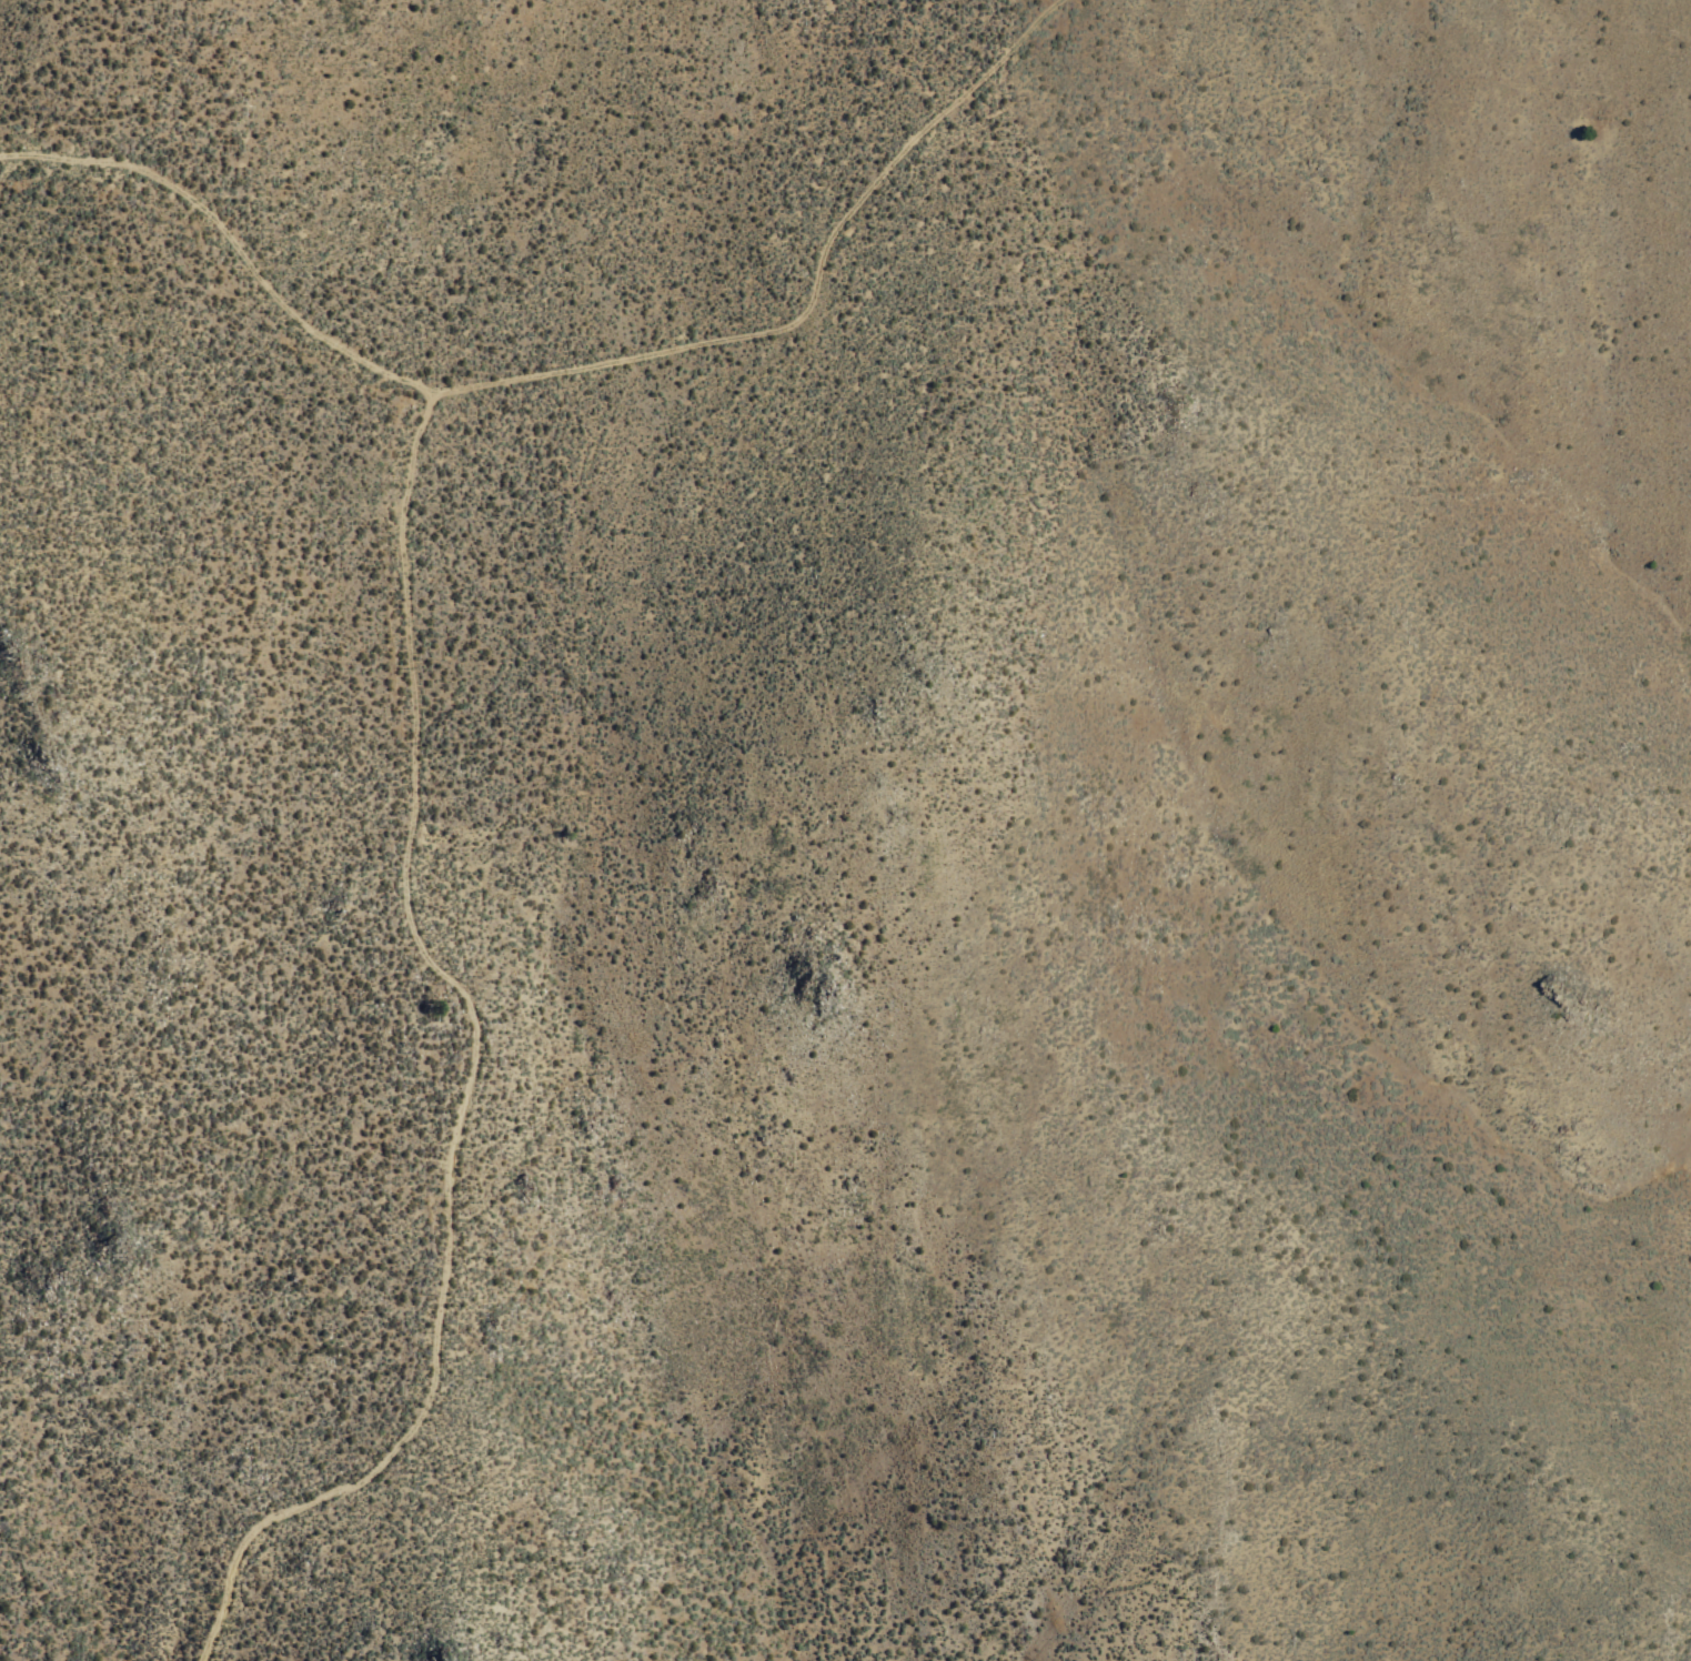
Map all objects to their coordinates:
road: (570, 366)
road: (472, 1066)

